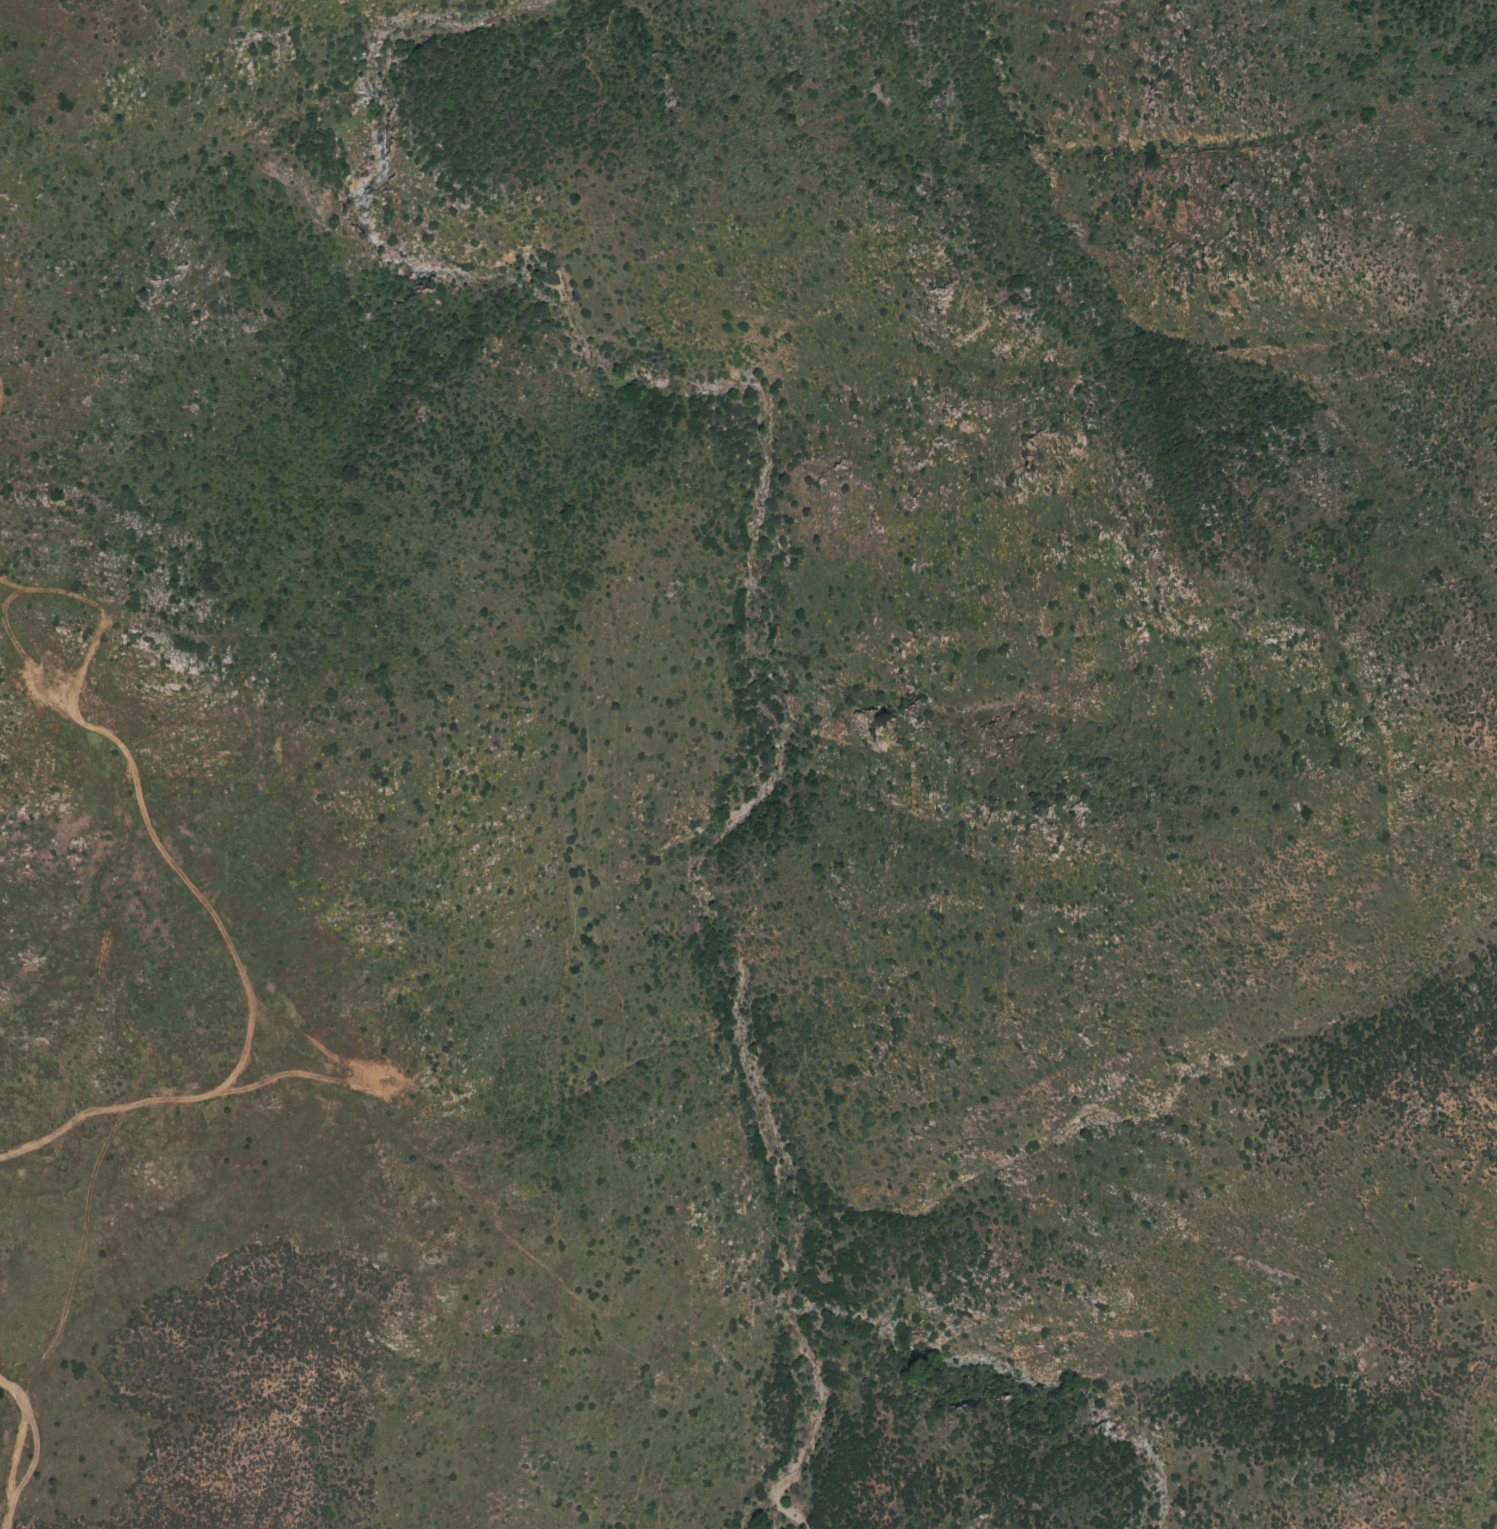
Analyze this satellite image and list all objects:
road: (219, 938)
road: (29, 1454)

